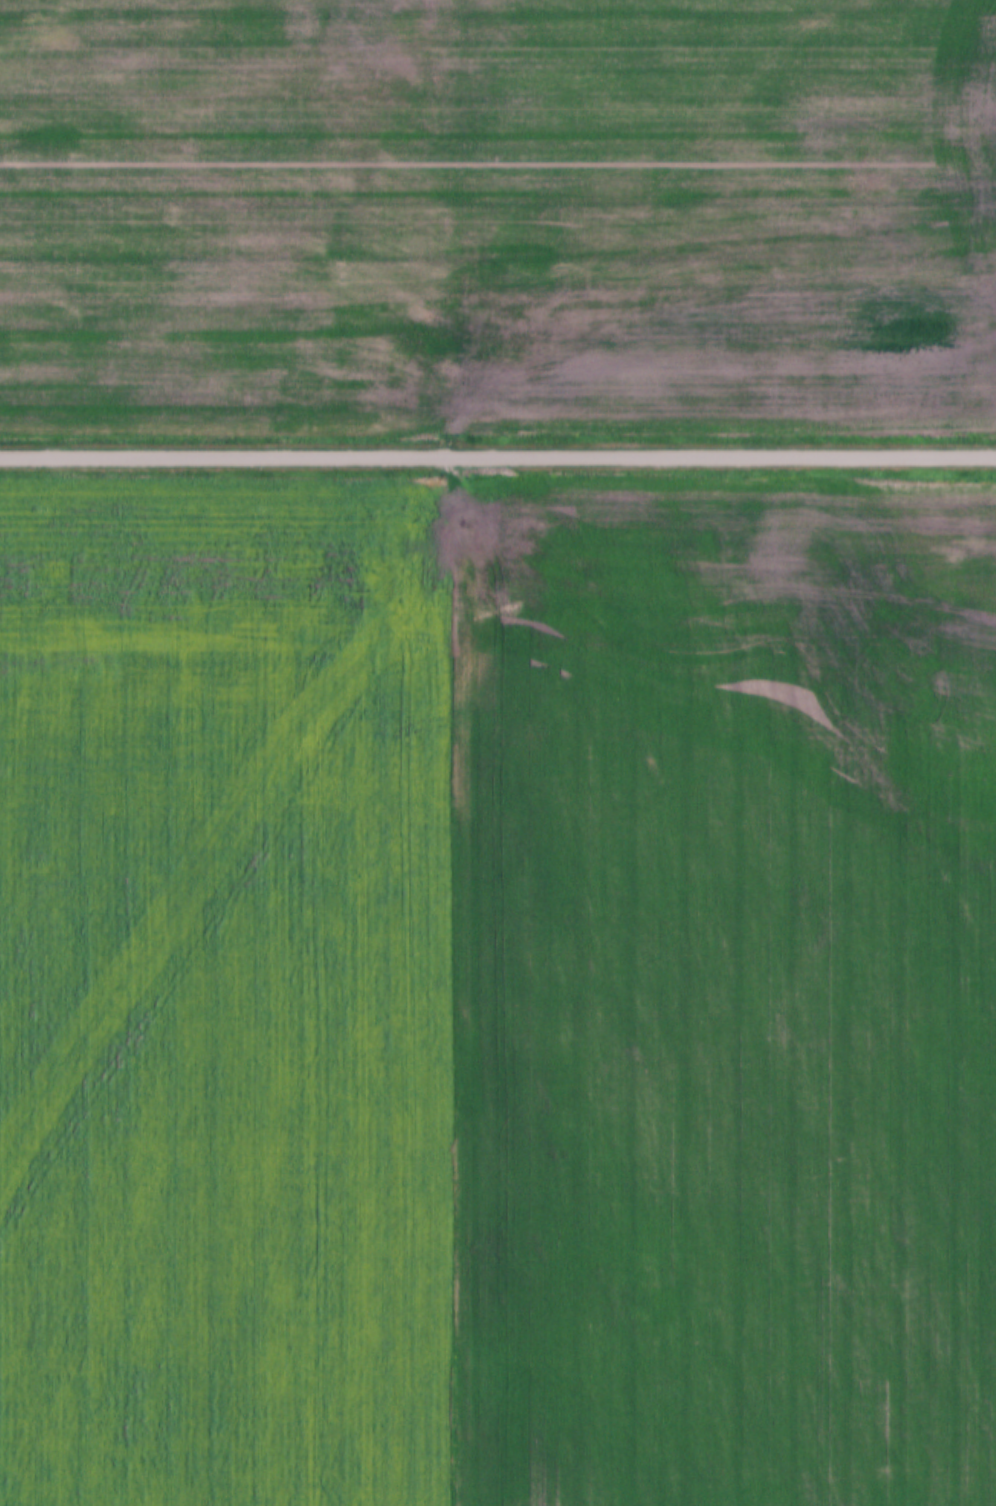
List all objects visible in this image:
road: (498, 456)

